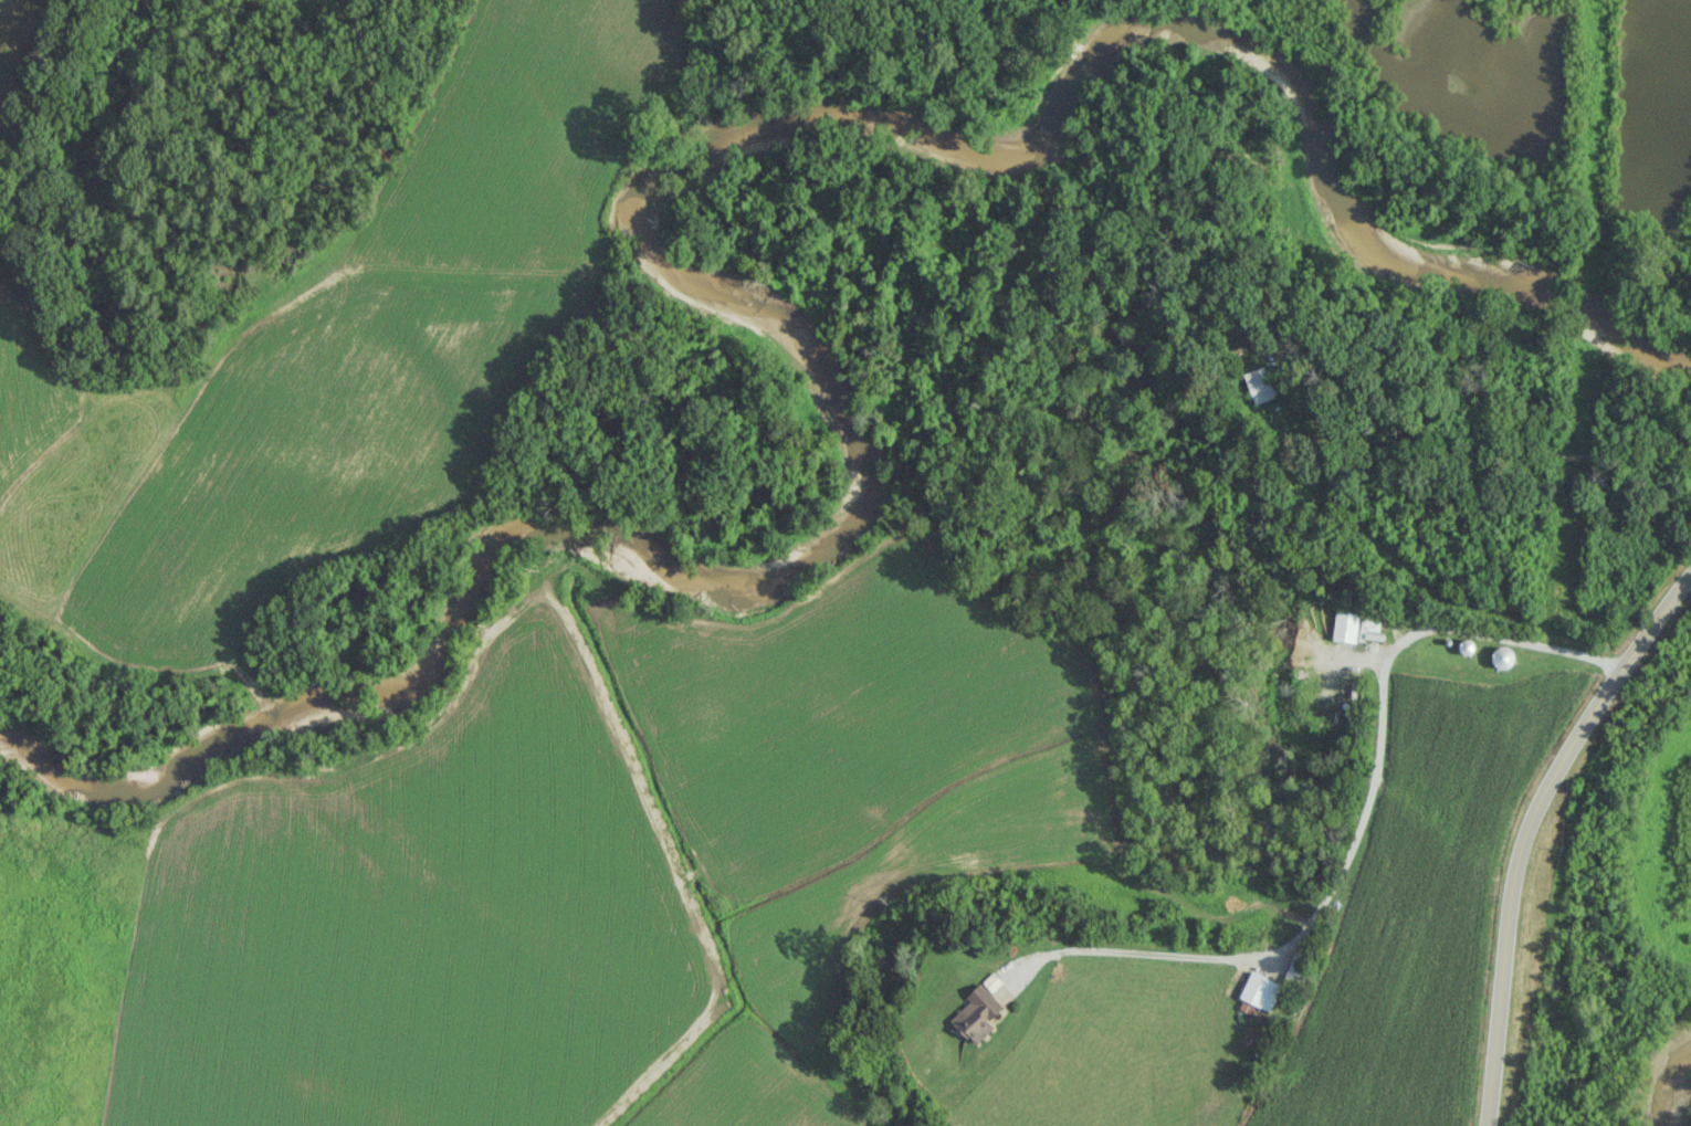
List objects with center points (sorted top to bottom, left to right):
river: (654, 259)
building: (1260, 385)
road: (1468, 402)
building: (1345, 627)
road: (1529, 827)
road: (1364, 833)
building: (1260, 990)
building: (976, 1013)
river: (1677, 1087)

